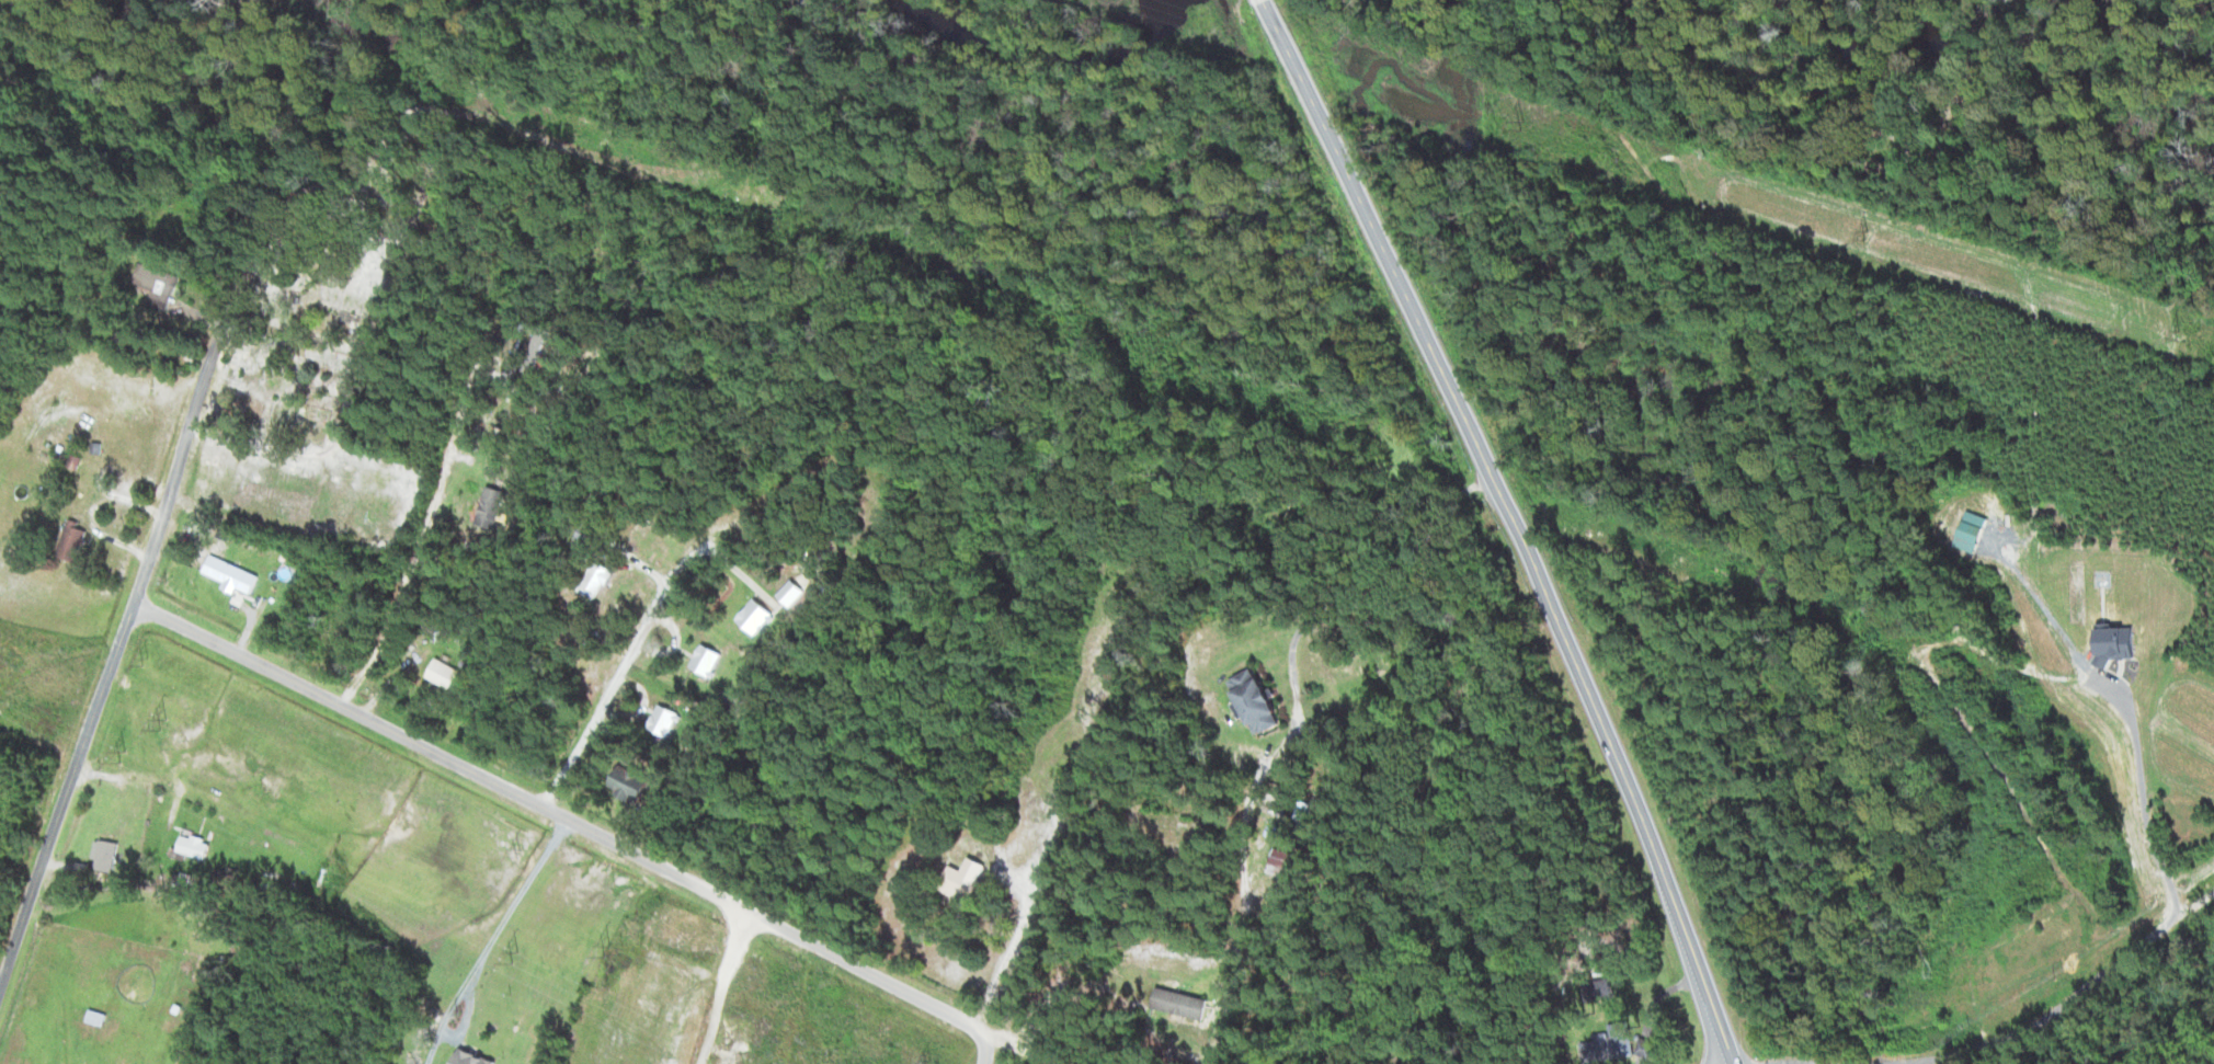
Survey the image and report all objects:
power tower: (1540, 128)
power tower: (1867, 233)
building: (160, 285)
power tower: (2175, 333)
building: (493, 508)
road: (1520, 525)
building: (75, 542)
building: (232, 575)
building: (598, 583)
power tower: (147, 656)
road: (110, 668)
building: (450, 676)
building: (1349, 679)
building: (1259, 702)
power tower: (169, 728)
power tower: (127, 757)
building: (632, 786)
building: (195, 846)
power tower: (518, 851)
building: (110, 856)
building: (1288, 863)
road: (1237, 876)
building: (969, 879)
power tower: (613, 956)
power tower: (517, 958)
building: (1176, 1038)
building: (1614, 1042)
road: (1013, 1044)
building: (475, 1057)
power tower: (928, 1060)

